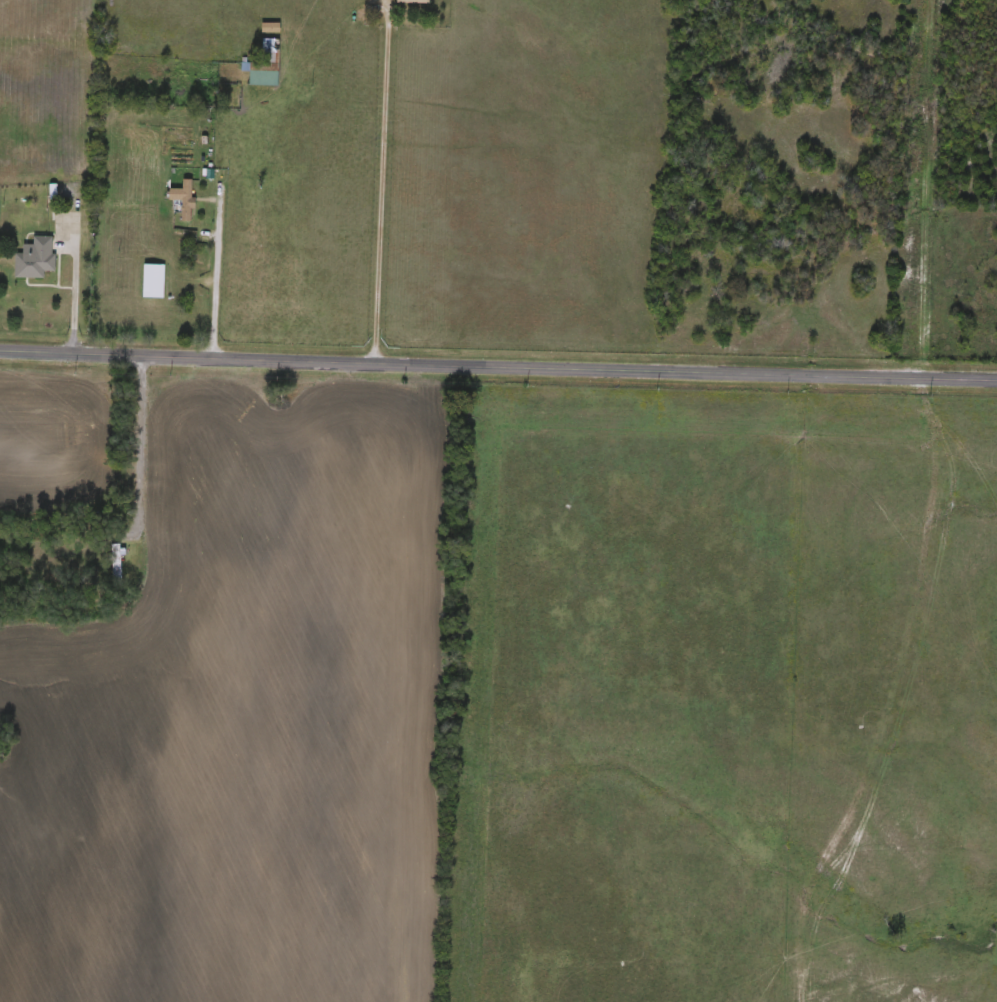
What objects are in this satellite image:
building: (413, 1)
building: (266, 64)
road: (379, 182)
building: (185, 199)
building: (35, 258)
road: (214, 276)
road: (498, 365)
road: (135, 439)
building: (115, 564)

